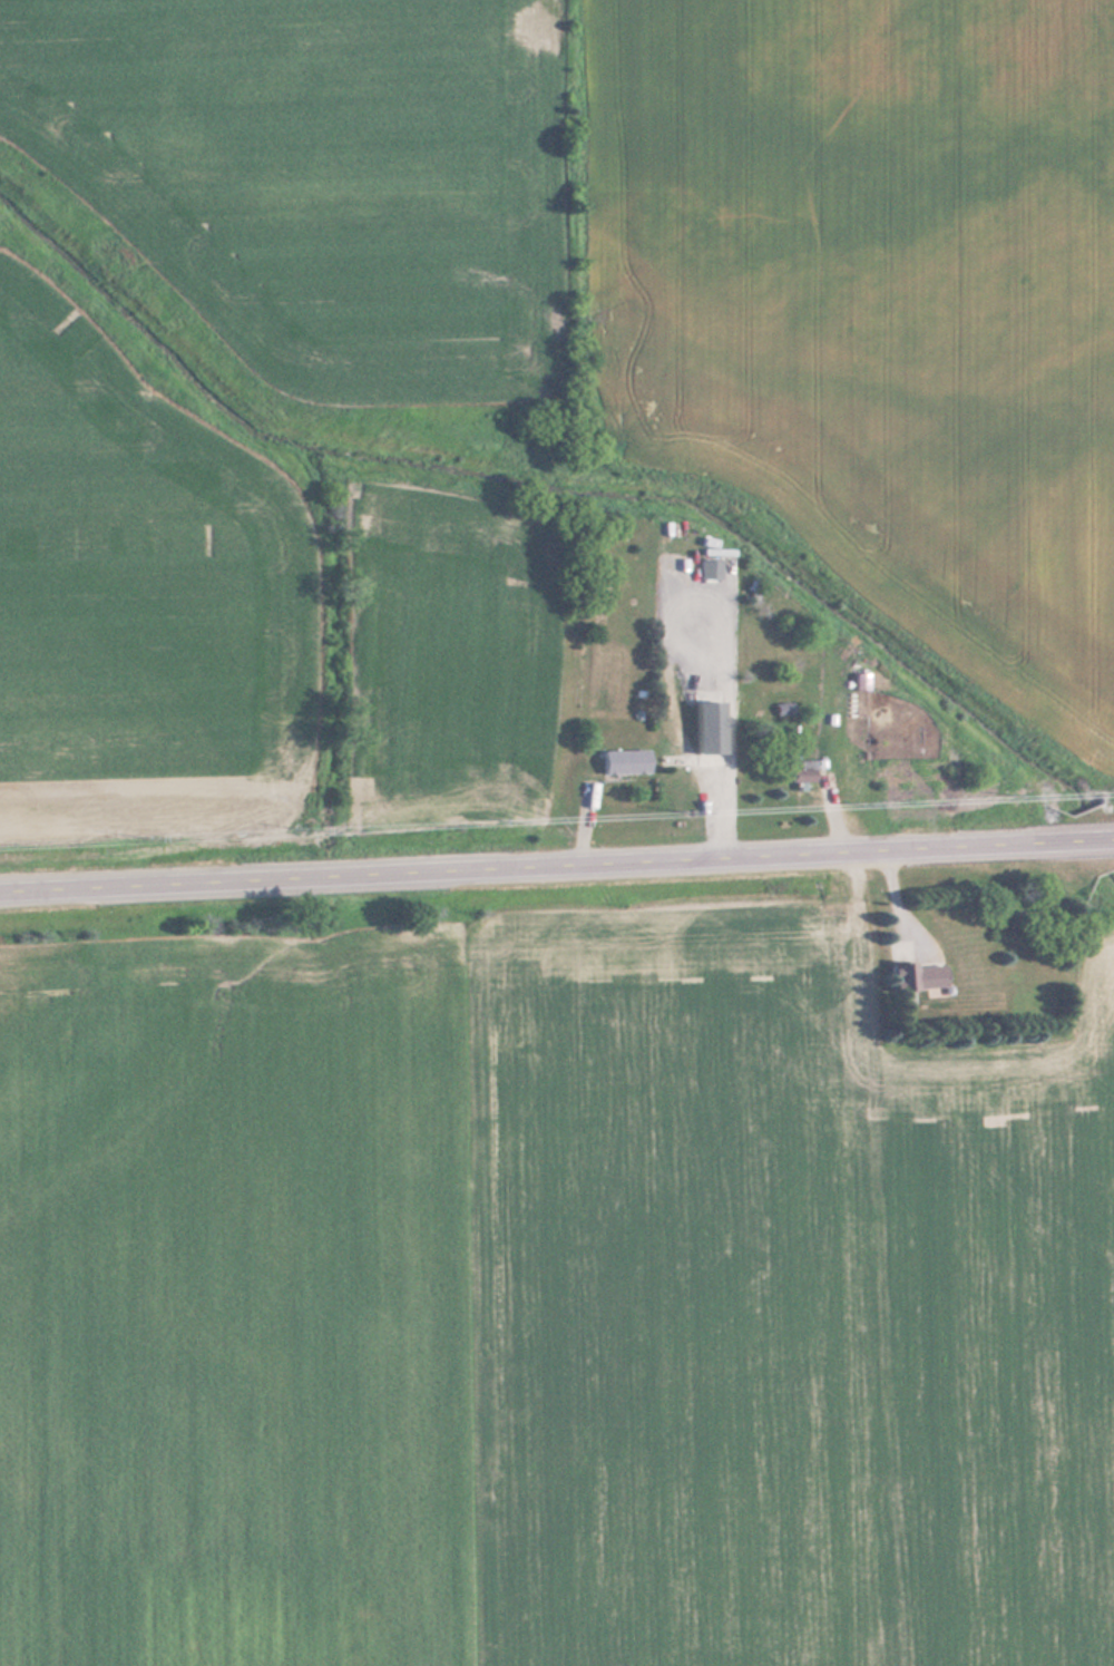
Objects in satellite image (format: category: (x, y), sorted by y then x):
building: (709, 563)
building: (711, 732)
building: (626, 761)
building: (804, 769)
road: (557, 868)
building: (918, 976)

